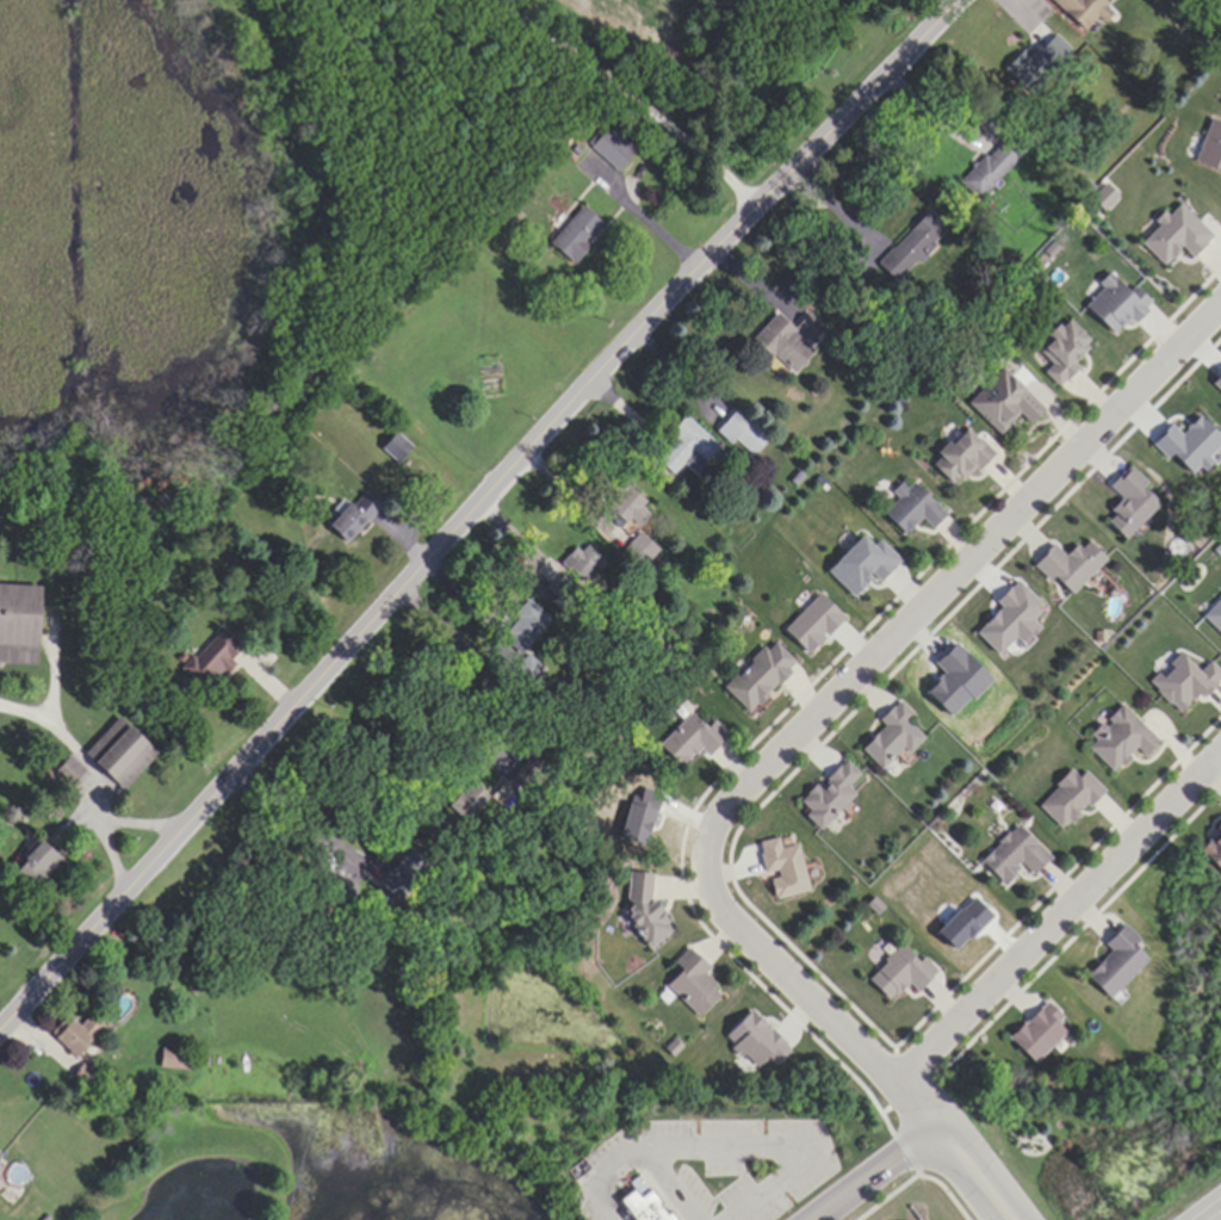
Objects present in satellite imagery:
building: (1080, 12)
road: (624, 103)
road: (960, 138)
building: (610, 148)
building: (985, 172)
road: (640, 216)
building: (574, 235)
building: (912, 244)
building: (1111, 303)
building: (785, 341)
building: (1060, 349)
building: (1002, 402)
building: (730, 425)
building: (684, 447)
building: (957, 456)
building: (1126, 503)
building: (625, 504)
road: (473, 508)
building: (909, 509)
building: (348, 518)
building: (637, 549)
building: (1065, 565)
building: (18, 624)
building: (523, 628)
building: (210, 661)
building: (757, 675)
road: (848, 682)
road: (498, 704)
building: (888, 735)
building: (1117, 738)
building: (689, 739)
building: (116, 754)
building: (63, 770)
road: (87, 780)
building: (828, 793)
building: (1067, 798)
road: (141, 823)
road: (304, 824)
building: (1213, 849)
building: (1011, 855)
building: (31, 865)
building: (781, 866)
building: (643, 910)
road: (1060, 918)
building: (1115, 961)
building: (898, 973)
building: (692, 984)
building: (1035, 1033)
building: (73, 1034)
building: (175, 1059)
road: (919, 1104)
road: (785, 1145)
road: (986, 1168)
road: (872, 1173)
road: (913, 1175)
road: (961, 1175)
road: (599, 1177)
road: (667, 1183)
road: (1202, 1206)
building: (645, 1207)
road: (1214, 1214)

